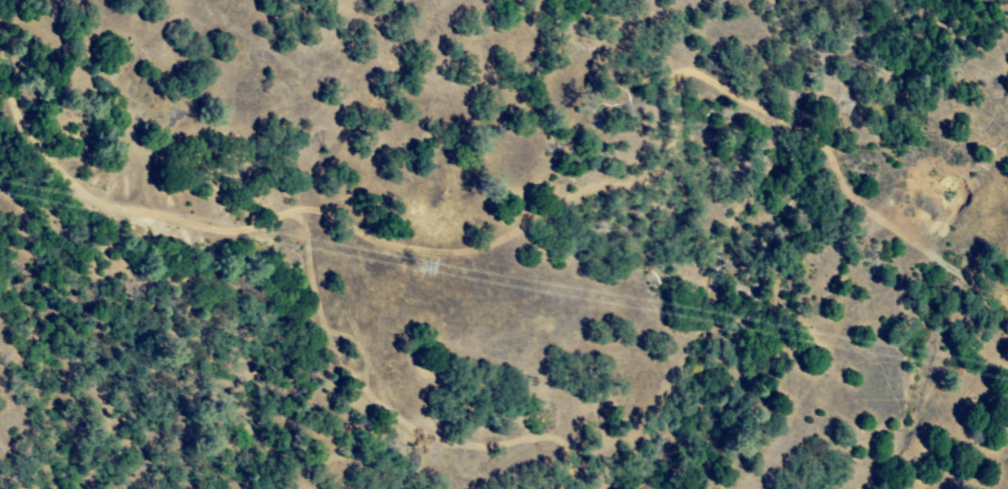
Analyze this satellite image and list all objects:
road: (572, 200)
power tower: (422, 268)

